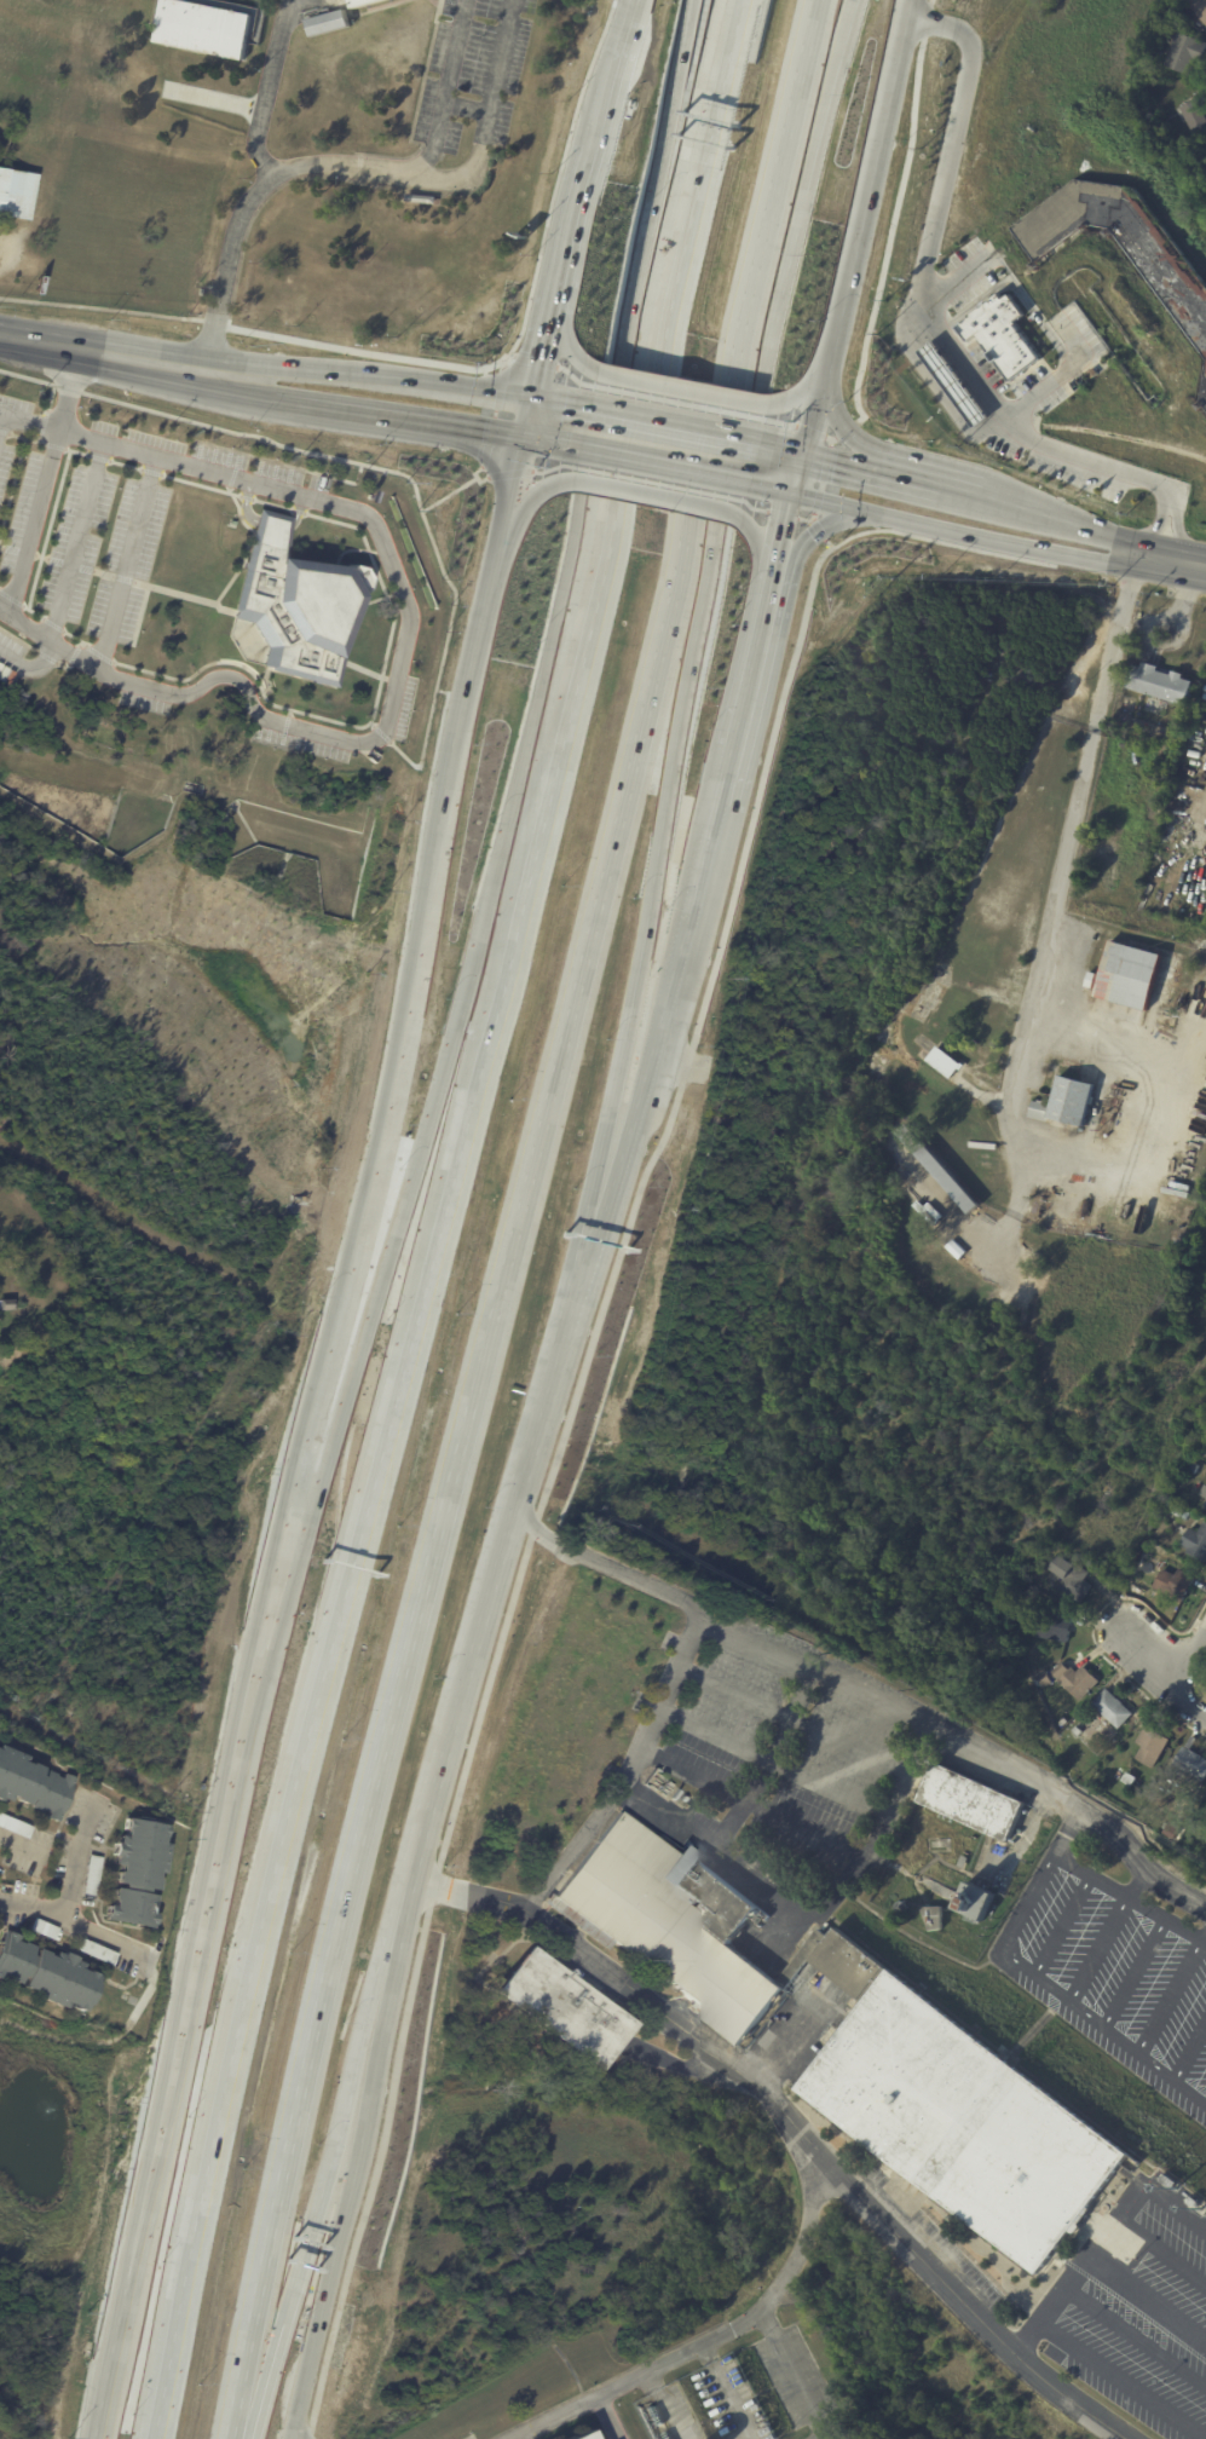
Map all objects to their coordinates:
building: (368, 2)
building: (1198, 7)
road: (634, 10)
road: (906, 10)
building: (324, 22)
building: (201, 28)
road: (723, 29)
road: (623, 46)
building: (1183, 52)
parking lot: (471, 75)
road: (443, 91)
building: (1194, 115)
road: (882, 122)
building: (1205, 163)
road: (458, 175)
road: (262, 188)
road: (585, 188)
building: (16, 194)
building: (417, 198)
building: (1121, 244)
road: (954, 277)
road: (846, 284)
road: (1019, 292)
road: (905, 319)
road: (549, 325)
building: (1005, 334)
road: (566, 342)
road: (102, 356)
road: (966, 367)
road: (538, 374)
road: (1057, 374)
road: (368, 377)
road: (809, 381)
building: (958, 385)
gas station: (958, 385)
road: (686, 388)
building: (1204, 391)
road: (69, 392)
road: (237, 394)
road: (821, 398)
traffic signals: (532, 399)
road: (561, 404)
road: (837, 413)
road: (1, 420)
road: (398, 420)
road: (527, 420)
road: (29, 423)
road: (676, 427)
road: (639, 433)
traffic signals: (523, 442)
road: (711, 444)
road: (553, 446)
road: (785, 449)
traffic signals: (809, 454)
road: (844, 461)
road: (204, 468)
road: (669, 469)
road: (804, 475)
road: (910, 475)
building: (5, 486)
road: (959, 488)
road: (533, 491)
road: (777, 492)
traffic signals: (800, 497)
road: (660, 498)
road: (1056, 515)
parking lot: (76, 521)
road: (34, 523)
road: (1153, 527)
road: (953, 530)
road: (1177, 531)
road: (790, 535)
road: (815, 535)
road: (77, 541)
road: (766, 546)
road: (1114, 558)
road: (1162, 559)
road: (128, 561)
building: (294, 602)
road: (472, 663)
road: (31, 664)
road: (688, 671)
building: (1159, 682)
road: (290, 723)
road: (515, 753)
road: (1067, 854)
road: (681, 964)
building: (1126, 975)
building: (877, 1059)
building: (942, 1061)
building: (1063, 1102)
building: (937, 1170)
road: (368, 1190)
road: (647, 1211)
building: (6, 1304)
building: (1201, 1457)
building: (1201, 1494)
building: (1205, 1504)
building: (1178, 1512)
building: (1195, 1543)
building: (1067, 1579)
building: (1172, 1584)
road: (486, 1613)
building: (1052, 1627)
road: (334, 1649)
road: (264, 1656)
road: (399, 1660)
road: (1188, 1661)
road: (1159, 1677)
building: (1041, 1679)
building: (1073, 1680)
road: (873, 1684)
building: (1110, 1709)
building: (1062, 1723)
building: (1074, 1731)
building: (1149, 1748)
building: (1190, 1764)
road: (627, 1765)
building: (1127, 1780)
building: (33, 1783)
building: (1167, 1788)
road: (752, 1799)
building: (969, 1801)
building: (1183, 1803)
road: (732, 1820)
building: (13, 1826)
road: (1072, 1832)
road: (39, 1847)
road: (79, 1858)
building: (962, 1862)
building: (134, 1872)
building: (88, 1873)
road: (1144, 1880)
road: (1132, 1895)
building: (973, 1899)
road: (812, 1905)
building: (933, 1918)
road: (76, 1920)
building: (39, 1927)
building: (689, 1927)
building: (92, 1950)
building: (44, 1974)
road: (1064, 1995)
building: (555, 2007)
road: (790, 2042)
road: (792, 2120)
building: (964, 2121)
road: (163, 2129)
road: (351, 2156)
building: (1169, 2181)
building: (1193, 2202)
road: (1177, 2207)
road: (312, 2221)
road: (1162, 2251)
road: (1081, 2268)
road: (1149, 2293)
road: (709, 2333)
road: (1137, 2335)
road: (800, 2371)
road: (1123, 2380)
road: (727, 2401)
road: (602, 2417)
building: (578, 2434)
road: (825, 2435)

